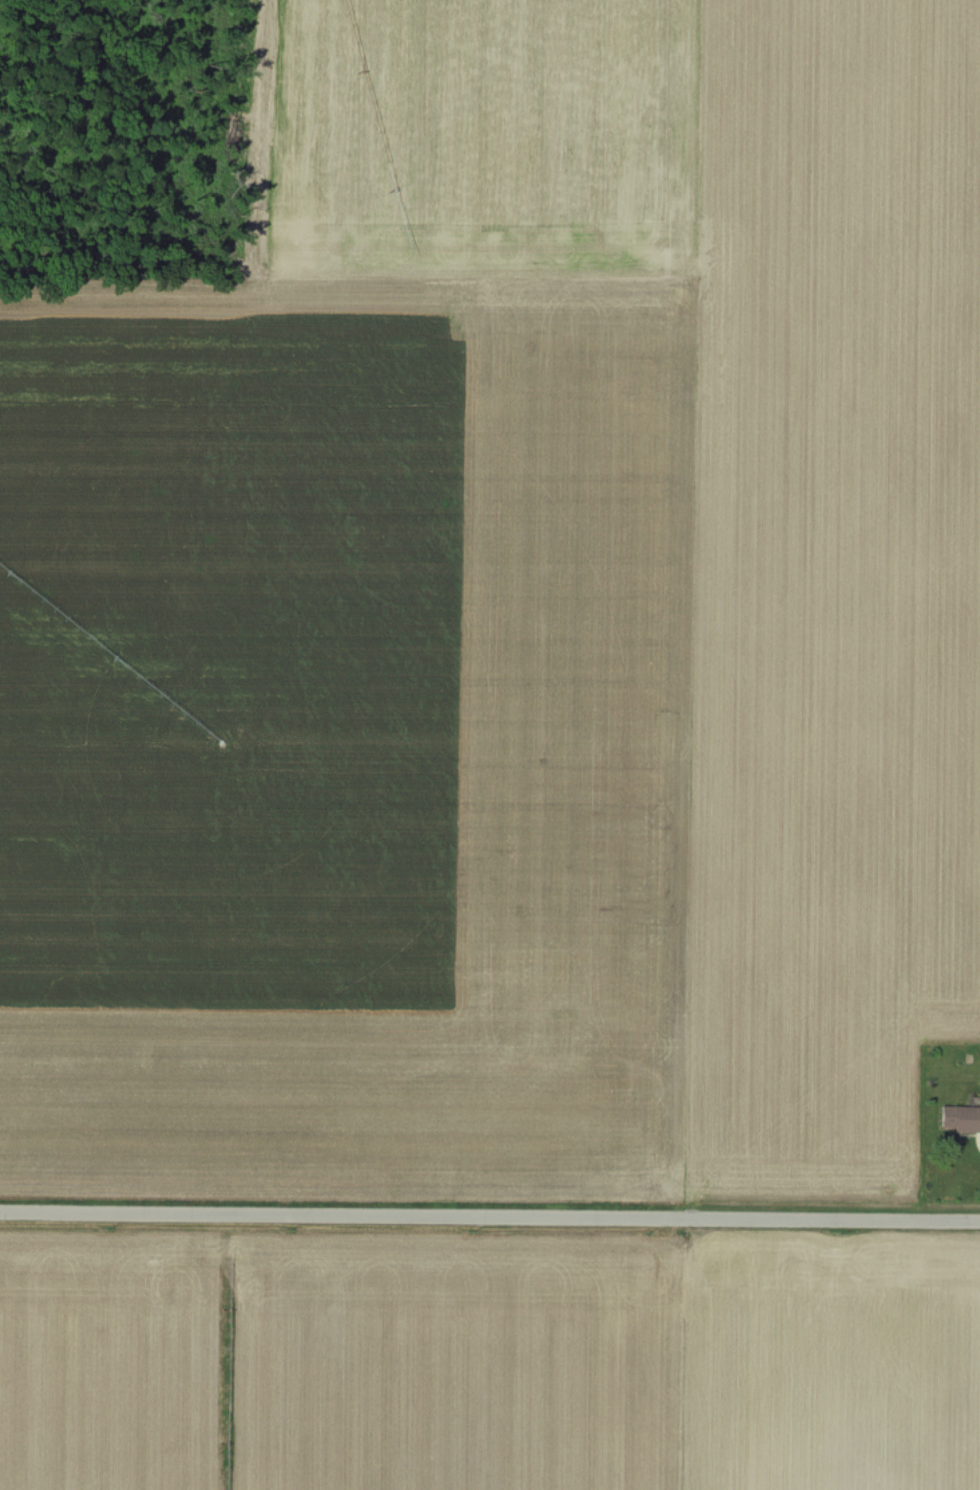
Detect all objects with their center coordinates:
building: (959, 1118)
road: (490, 1214)

